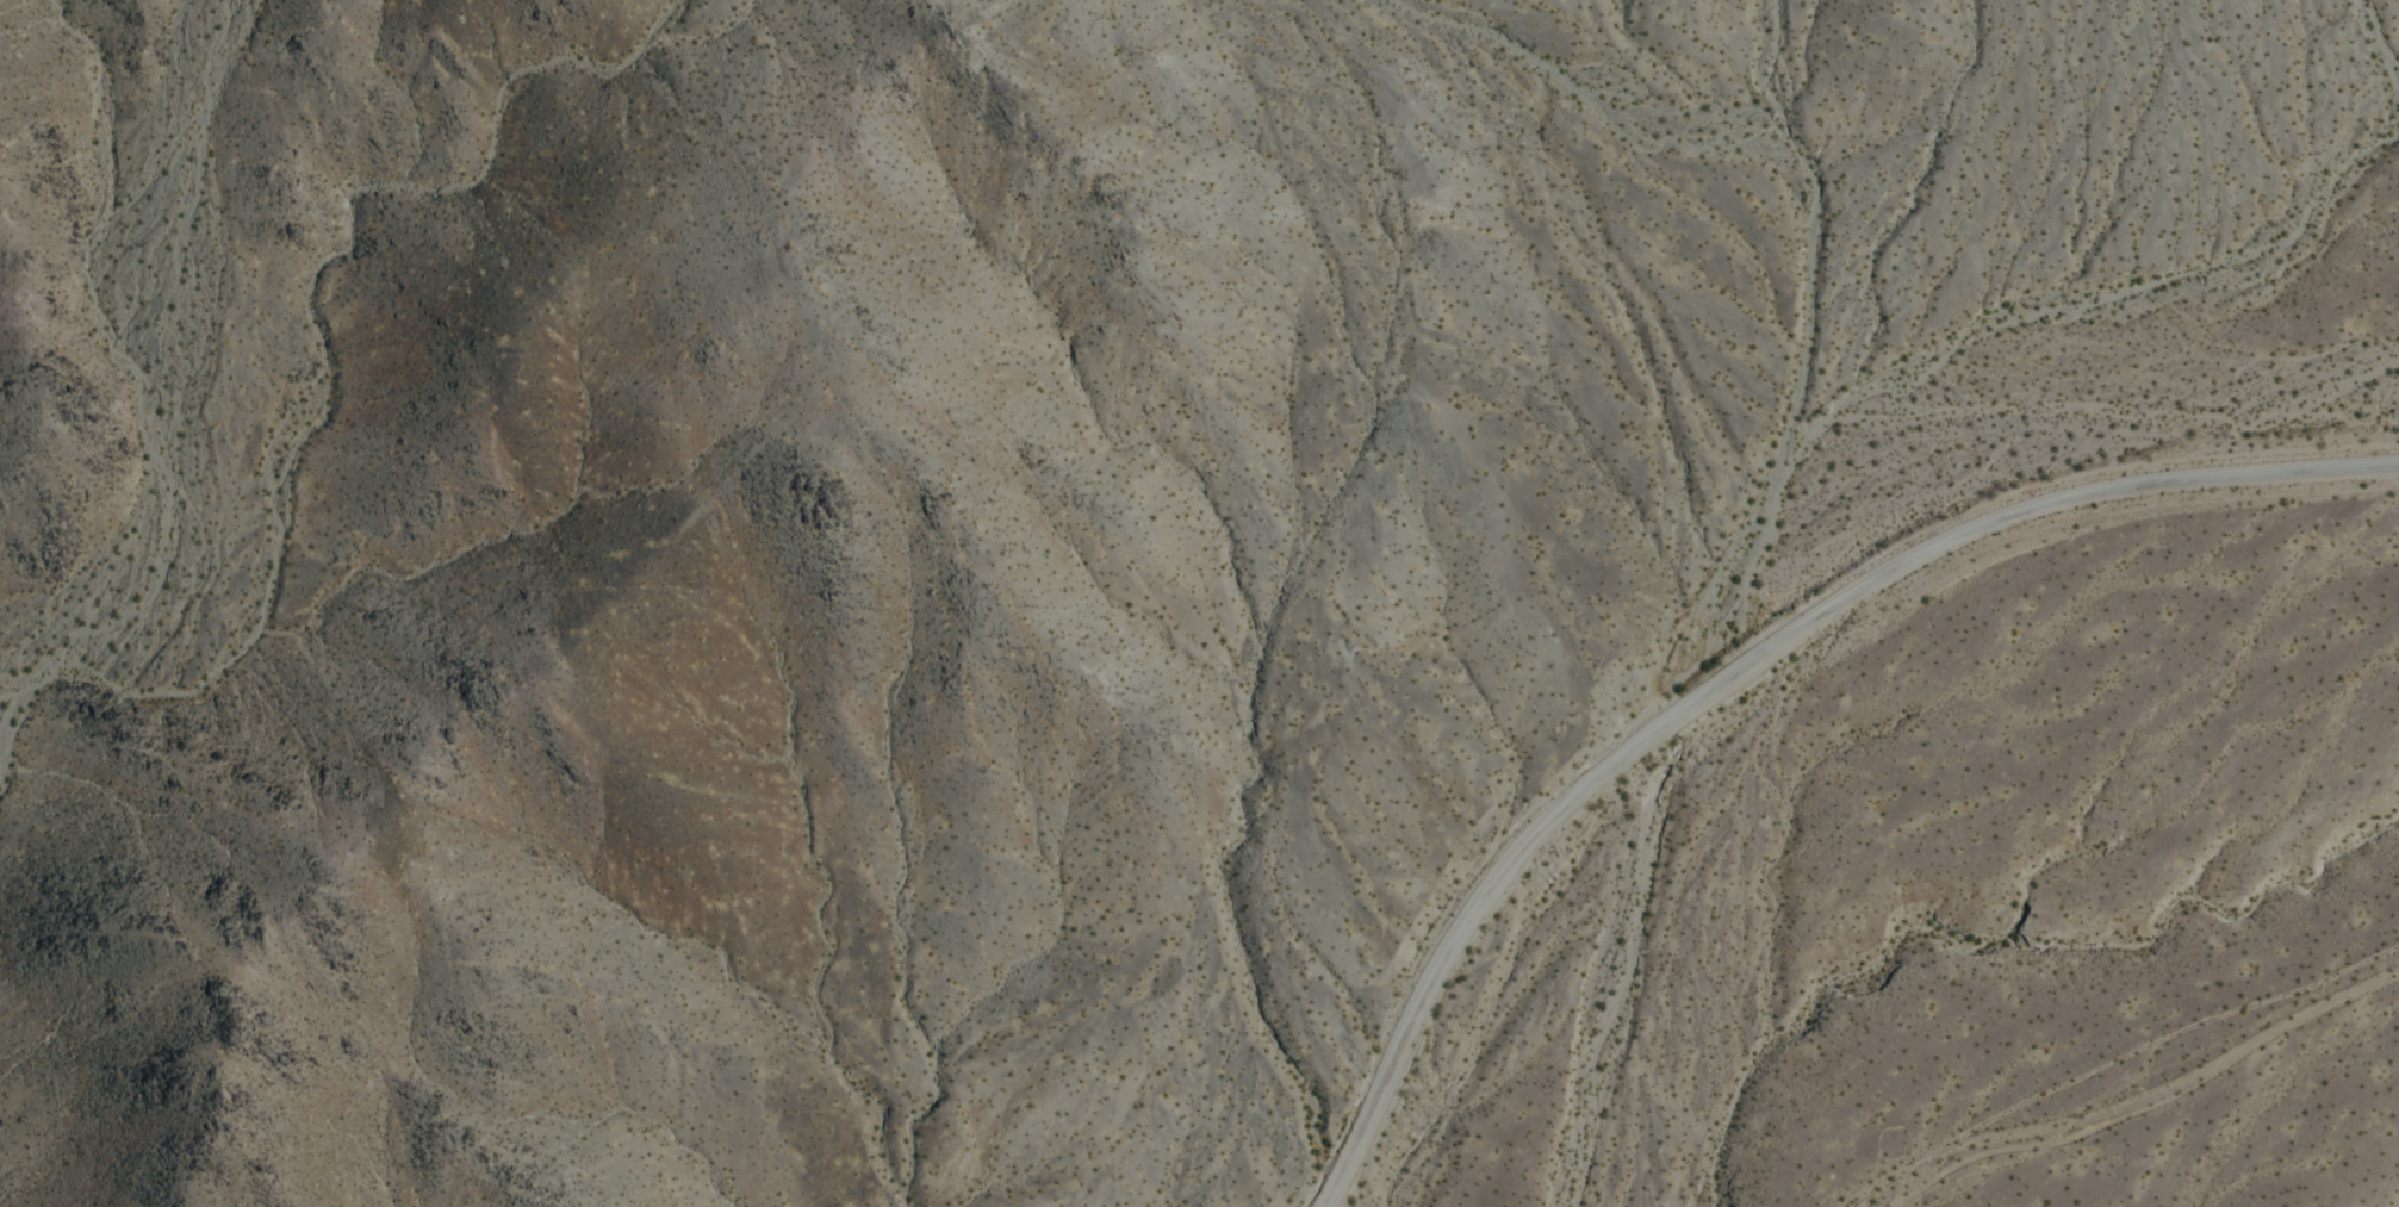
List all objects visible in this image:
road: (1753, 670)

